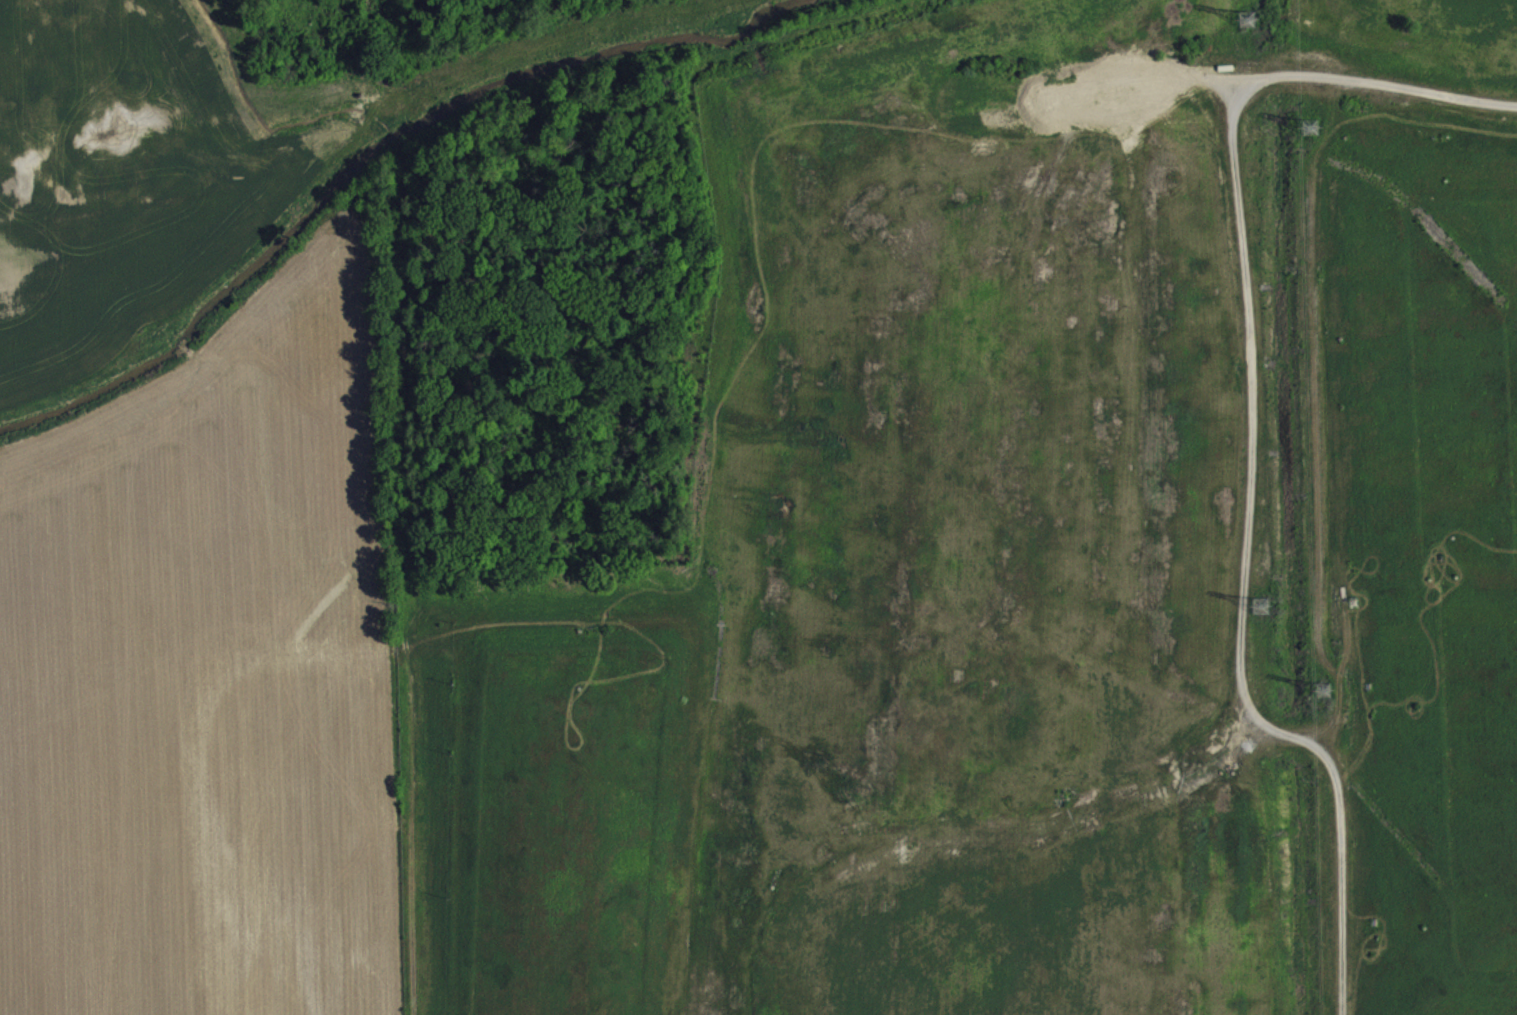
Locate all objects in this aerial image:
power tower: (1253, 14)
power tower: (1314, 123)
power tower: (1261, 602)
power tower: (1326, 685)

